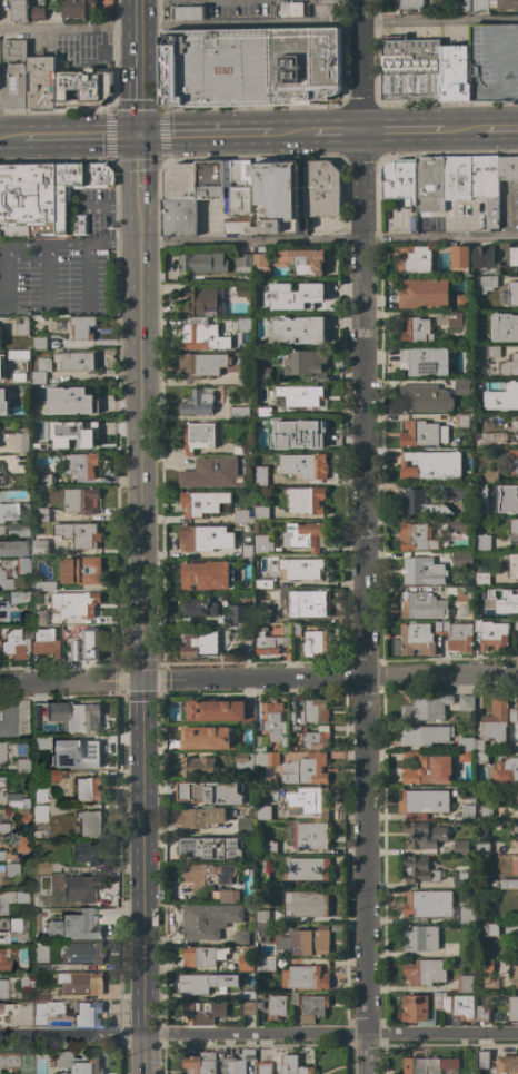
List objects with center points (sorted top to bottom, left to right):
building: (409, 4)
building: (492, 4)
building: (462, 6)
building: (78, 8)
building: (290, 9)
building: (19, 10)
building: (101, 10)
building: (187, 12)
building: (37, 13)
road: (259, 26)
building: (494, 61)
building: (250, 66)
road: (138, 67)
building: (411, 70)
building: (456, 72)
building: (13, 75)
building: (40, 82)
building: (83, 88)
road: (438, 128)
road: (248, 132)
traffic signals: (138, 136)
road: (79, 138)
road: (10, 140)
road: (138, 164)
building: (507, 168)
building: (457, 177)
building: (209, 179)
building: (399, 180)
building: (429, 185)
building: (486, 186)
building: (321, 188)
building: (43, 195)
building: (238, 196)
building: (277, 197)
building: (179, 200)
road: (110, 205)
building: (79, 225)
road: (328, 242)
road: (68, 246)
building: (460, 256)
building: (482, 256)
building: (414, 259)
building: (508, 260)
building: (309, 263)
building: (200, 264)
building: (241, 264)
building: (260, 265)
road: (86, 275)
road: (48, 276)
road: (6, 278)
building: (485, 284)
building: (262, 286)
building: (243, 289)
building: (424, 293)
building: (509, 295)
building: (303, 297)
building: (202, 302)
building: (451, 318)
building: (243, 324)
building: (21, 325)
building: (57, 327)
building: (82, 327)
building: (505, 327)
building: (298, 329)
building: (416, 331)
building: (202, 337)
building: (39, 343)
building: (492, 352)
building: (20, 357)
building: (77, 361)
building: (425, 361)
building: (201, 365)
building: (307, 365)
building: (509, 365)
building: (41, 371)
building: (263, 374)
building: (243, 378)
building: (464, 386)
building: (300, 395)
building: (18, 396)
building: (501, 397)
building: (426, 398)
building: (70, 401)
building: (3, 402)
building: (198, 402)
building: (263, 412)
building: (239, 413)
building: (461, 421)
building: (81, 432)
building: (421, 433)
building: (297, 434)
building: (197, 436)
building: (516, 436)
building: (481, 440)
building: (21, 443)
building: (39, 445)
building: (238, 447)
building: (462, 455)
building: (514, 462)
building: (81, 465)
building: (308, 465)
building: (419, 466)
building: (211, 473)
building: (260, 475)
building: (487, 475)
building: (42, 477)
building: (0, 480)
building: (459, 491)
building: (508, 499)
building: (80, 500)
building: (305, 500)
building: (201, 503)
building: (420, 503)
building: (0, 506)
building: (261, 513)
building: (40, 514)
building: (242, 515)
building: (457, 525)
building: (256, 526)
building: (18, 529)
building: (514, 531)
building: (78, 534)
building: (305, 535)
road: (361, 536)
building: (416, 536)
building: (205, 539)
building: (482, 542)
building: (262, 544)
building: (39, 546)
building: (12, 548)
building: (246, 551)
building: (461, 559)
building: (0, 564)
building: (510, 564)
building: (22, 565)
building: (301, 568)
building: (80, 570)
building: (422, 571)
building: (206, 575)
building: (481, 578)
building: (4, 581)
building: (263, 583)
building: (47, 585)
building: (459, 592)
building: (20, 597)
building: (515, 599)
building: (74, 603)
building: (306, 603)
building: (421, 605)
building: (198, 607)
building: (3, 609)
road: (138, 612)
building: (238, 612)
building: (485, 613)
building: (262, 614)
building: (38, 617)
building: (516, 625)
building: (441, 628)
building: (296, 630)
building: (27, 631)
building: (245, 634)
building: (491, 634)
building: (68, 637)
building: (460, 638)
building: (416, 639)
building: (89, 640)
building: (275, 640)
building: (46, 642)
building: (202, 642)
building: (315, 642)
building: (12, 643)
road: (258, 676)
traffic signals: (139, 678)
building: (466, 703)
building: (426, 708)
building: (215, 710)
building: (54, 711)
building: (315, 711)
building: (512, 716)
building: (81, 717)
building: (291, 717)
building: (7, 719)
building: (276, 723)
building: (491, 727)
building: (425, 735)
building: (312, 736)
building: (207, 738)
building: (41, 741)
building: (259, 745)
building: (465, 748)
building: (2, 751)
building: (82, 755)
building: (267, 758)
building: (243, 760)
building: (22, 766)
building: (198, 767)
building: (305, 769)
building: (426, 769)
building: (502, 772)
building: (51, 775)
building: (0, 782)
building: (86, 788)
building: (209, 791)
building: (39, 795)
building: (16, 800)
building: (307, 801)
building: (422, 802)
building: (262, 812)
building: (485, 812)
building: (39, 814)
building: (465, 814)
building: (21, 815)
building: (201, 817)
building: (89, 822)
building: (243, 825)
building: (3, 827)
building: (482, 832)
building: (515, 832)
building: (422, 835)
building: (310, 836)
building: (22, 843)
building: (211, 847)
building: (460, 847)
building: (482, 847)
building: (270, 848)
building: (87, 853)
building: (1, 855)
building: (41, 866)
building: (517, 868)
building: (11, 869)
building: (306, 869)
building: (418, 870)
building: (261, 871)
building: (209, 876)
building: (460, 877)
building: (508, 884)
building: (81, 887)
building: (228, 896)
building: (21, 897)
building: (43, 900)
building: (306, 904)
building: (428, 904)
building: (467, 915)
building: (261, 916)
building: (208, 920)
building: (19, 925)
building: (73, 926)
road: (511, 927)
building: (489, 929)
building: (261, 933)
building: (37, 936)
building: (240, 937)
building: (2, 938)
building: (420, 938)
building: (517, 939)
building: (309, 940)
building: (83, 953)
building: (260, 953)
building: (202, 956)
building: (3, 958)
building: (245, 963)
building: (268, 965)
building: (42, 966)
building: (485, 966)
building: (424, 972)
building: (514, 976)
building: (305, 977)
building: (26, 979)
building: (82, 983)
building: (203, 983)
building: (465, 983)
building: (3, 987)
building: (42, 995)
building: (249, 995)
building: (292, 997)
building: (437, 1001)
building: (446, 1004)
building: (276, 1006)
building: (248, 1007)
building: (312, 1007)
building: (462, 1007)
building: (512, 1008)
building: (44, 1009)
building: (417, 1009)
building: (7, 1012)
building: (88, 1013)
building: (482, 1013)
building: (198, 1014)
road: (329, 1031)
road: (70, 1033)
road: (141, 1053)
building: (8, 1058)
building: (482, 1060)
building: (237, 1062)
building: (76, 1063)
building: (199, 1063)
building: (507, 1064)
building: (292, 1065)
building: (428, 1065)
building: (263, 1067)

